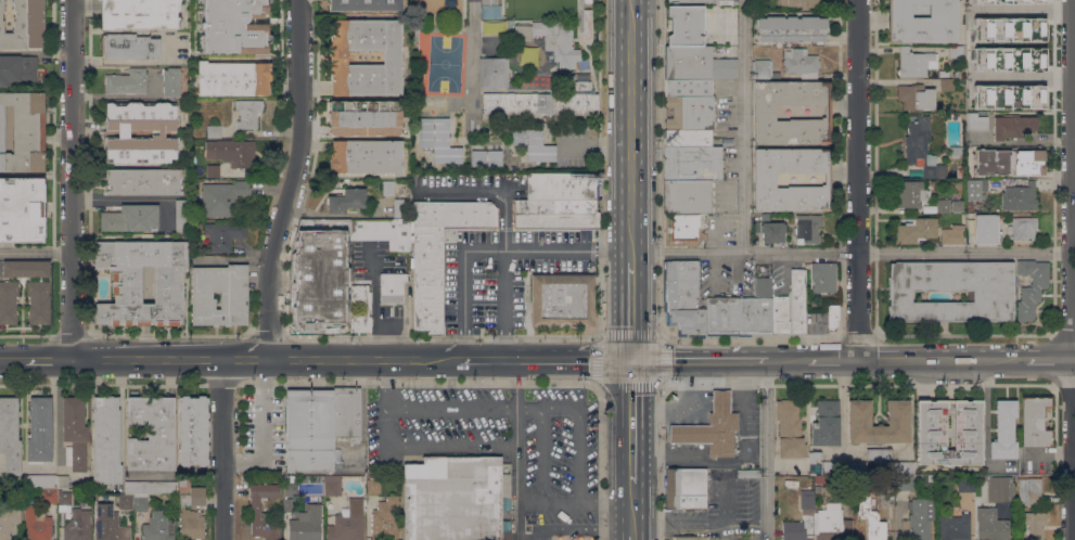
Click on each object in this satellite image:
building: (215, 1)
building: (587, 1)
building: (691, 1)
building: (980, 1)
building: (1020, 1)
building: (489, 2)
building: (728, 2)
building: (245, 4)
building: (801, 4)
building: (364, 5)
building: (202, 8)
building: (487, 10)
road: (1021, 10)
building: (139, 13)
building: (587, 16)
building: (921, 21)
building: (24, 25)
building: (686, 25)
building: (491, 26)
building: (791, 28)
building: (1007, 29)
building: (233, 31)
building: (587, 31)
building: (413, 35)
building: (553, 40)
building: (129, 47)
building: (775, 47)
building: (210, 51)
building: (956, 51)
building: (776, 54)
building: (366, 56)
building: (989, 57)
building: (1021, 59)
building: (694, 63)
building: (801, 63)
building: (914, 63)
building: (762, 68)
building: (17, 69)
building: (494, 72)
building: (776, 75)
road: (1023, 76)
building: (233, 78)
building: (128, 81)
building: (171, 81)
building: (947, 85)
building: (688, 87)
building: (916, 97)
building: (1009, 97)
building: (545, 101)
building: (792, 112)
building: (689, 113)
building: (248, 114)
building: (364, 118)
building: (976, 121)
road: (744, 126)
building: (1012, 127)
road: (634, 130)
building: (214, 131)
building: (24, 132)
building: (141, 133)
building: (688, 137)
building: (438, 140)
building: (195, 143)
building: (534, 144)
building: (921, 147)
building: (955, 151)
building: (232, 153)
building: (366, 156)
building: (487, 157)
building: (1009, 162)
building: (692, 163)
building: (214, 170)
building: (960, 173)
road: (71, 179)
building: (792, 179)
road: (858, 179)
road: (290, 180)
building: (144, 182)
building: (387, 188)
building: (975, 189)
road: (468, 190)
building: (910, 194)
building: (687, 196)
building: (1020, 196)
building: (222, 197)
building: (346, 201)
building: (559, 202)
building: (943, 205)
building: (970, 206)
building: (956, 207)
building: (400, 208)
building: (22, 209)
building: (182, 217)
building: (766, 217)
building: (130, 218)
building: (683, 228)
building: (808, 228)
building: (986, 229)
building: (1023, 229)
building: (916, 230)
building: (770, 231)
building: (383, 232)
building: (954, 234)
building: (223, 235)
road: (1072, 235)
building: (342, 239)
road: (548, 249)
road: (35, 252)
building: (438, 253)
parking lot: (501, 253)
road: (853, 253)
building: (26, 269)
road: (504, 270)
building: (323, 272)
building: (823, 277)
building: (127, 281)
building: (1032, 286)
building: (391, 290)
building: (233, 295)
building: (990, 296)
building: (683, 297)
building: (797, 300)
building: (8, 301)
building: (38, 301)
building: (561, 301)
road: (464, 305)
building: (355, 309)
road: (634, 309)
building: (741, 312)
building: (331, 314)
building: (779, 314)
building: (304, 316)
building: (832, 316)
road: (599, 339)
road: (12, 358)
road: (545, 358)
traffic signals: (634, 358)
road: (701, 358)
road: (785, 358)
road: (830, 358)
road: (940, 358)
road: (1049, 358)
road: (1074, 358)
road: (48, 359)
road: (264, 359)
road: (717, 400)
road: (689, 407)
road: (484, 409)
road: (391, 410)
building: (346, 413)
road: (634, 420)
building: (1035, 421)
building: (859, 422)
road: (53, 423)
building: (826, 423)
road: (986, 425)
building: (712, 427)
road: (263, 428)
building: (309, 429)
building: (790, 429)
building: (1004, 429)
building: (39, 430)
building: (193, 430)
building: (968, 430)
building: (75, 433)
building: (152, 433)
building: (10, 434)
building: (106, 440)
parking lot: (503, 448)
road: (223, 449)
road: (453, 449)
road: (516, 449)
road: (768, 449)
building: (879, 454)
building: (815, 455)
road: (541, 457)
road: (578, 457)
road: (740, 458)
building: (832, 466)
building: (855, 466)
building: (903, 467)
building: (748, 473)
building: (822, 479)
building: (40, 480)
building: (63, 480)
building: (904, 481)
building: (182, 483)
building: (963, 484)
building: (373, 485)
building: (332, 486)
building: (151, 487)
building: (686, 488)
building: (1000, 488)
building: (291, 489)
building: (1029, 490)
building: (48, 496)
building: (65, 498)
building: (453, 498)
building: (887, 499)
building: (126, 501)
building: (807, 501)
building: (141, 502)
building: (287, 504)
road: (576, 505)
road: (635, 509)
building: (255, 510)
parking lot: (720, 510)
road: (726, 511)
building: (1002, 511)
building: (192, 514)
building: (870, 517)
building: (386, 519)
building: (919, 519)
building: (9, 522)
building: (348, 522)
building: (38, 524)
building: (110, 524)
building: (832, 524)
building: (991, 525)
building: (1033, 525)
building: (78, 526)
building: (159, 526)
road: (680, 526)
building: (952, 527)
building: (304, 528)
building: (794, 530)
road: (602, 531)
road: (635, 537)
building: (690, 538)

